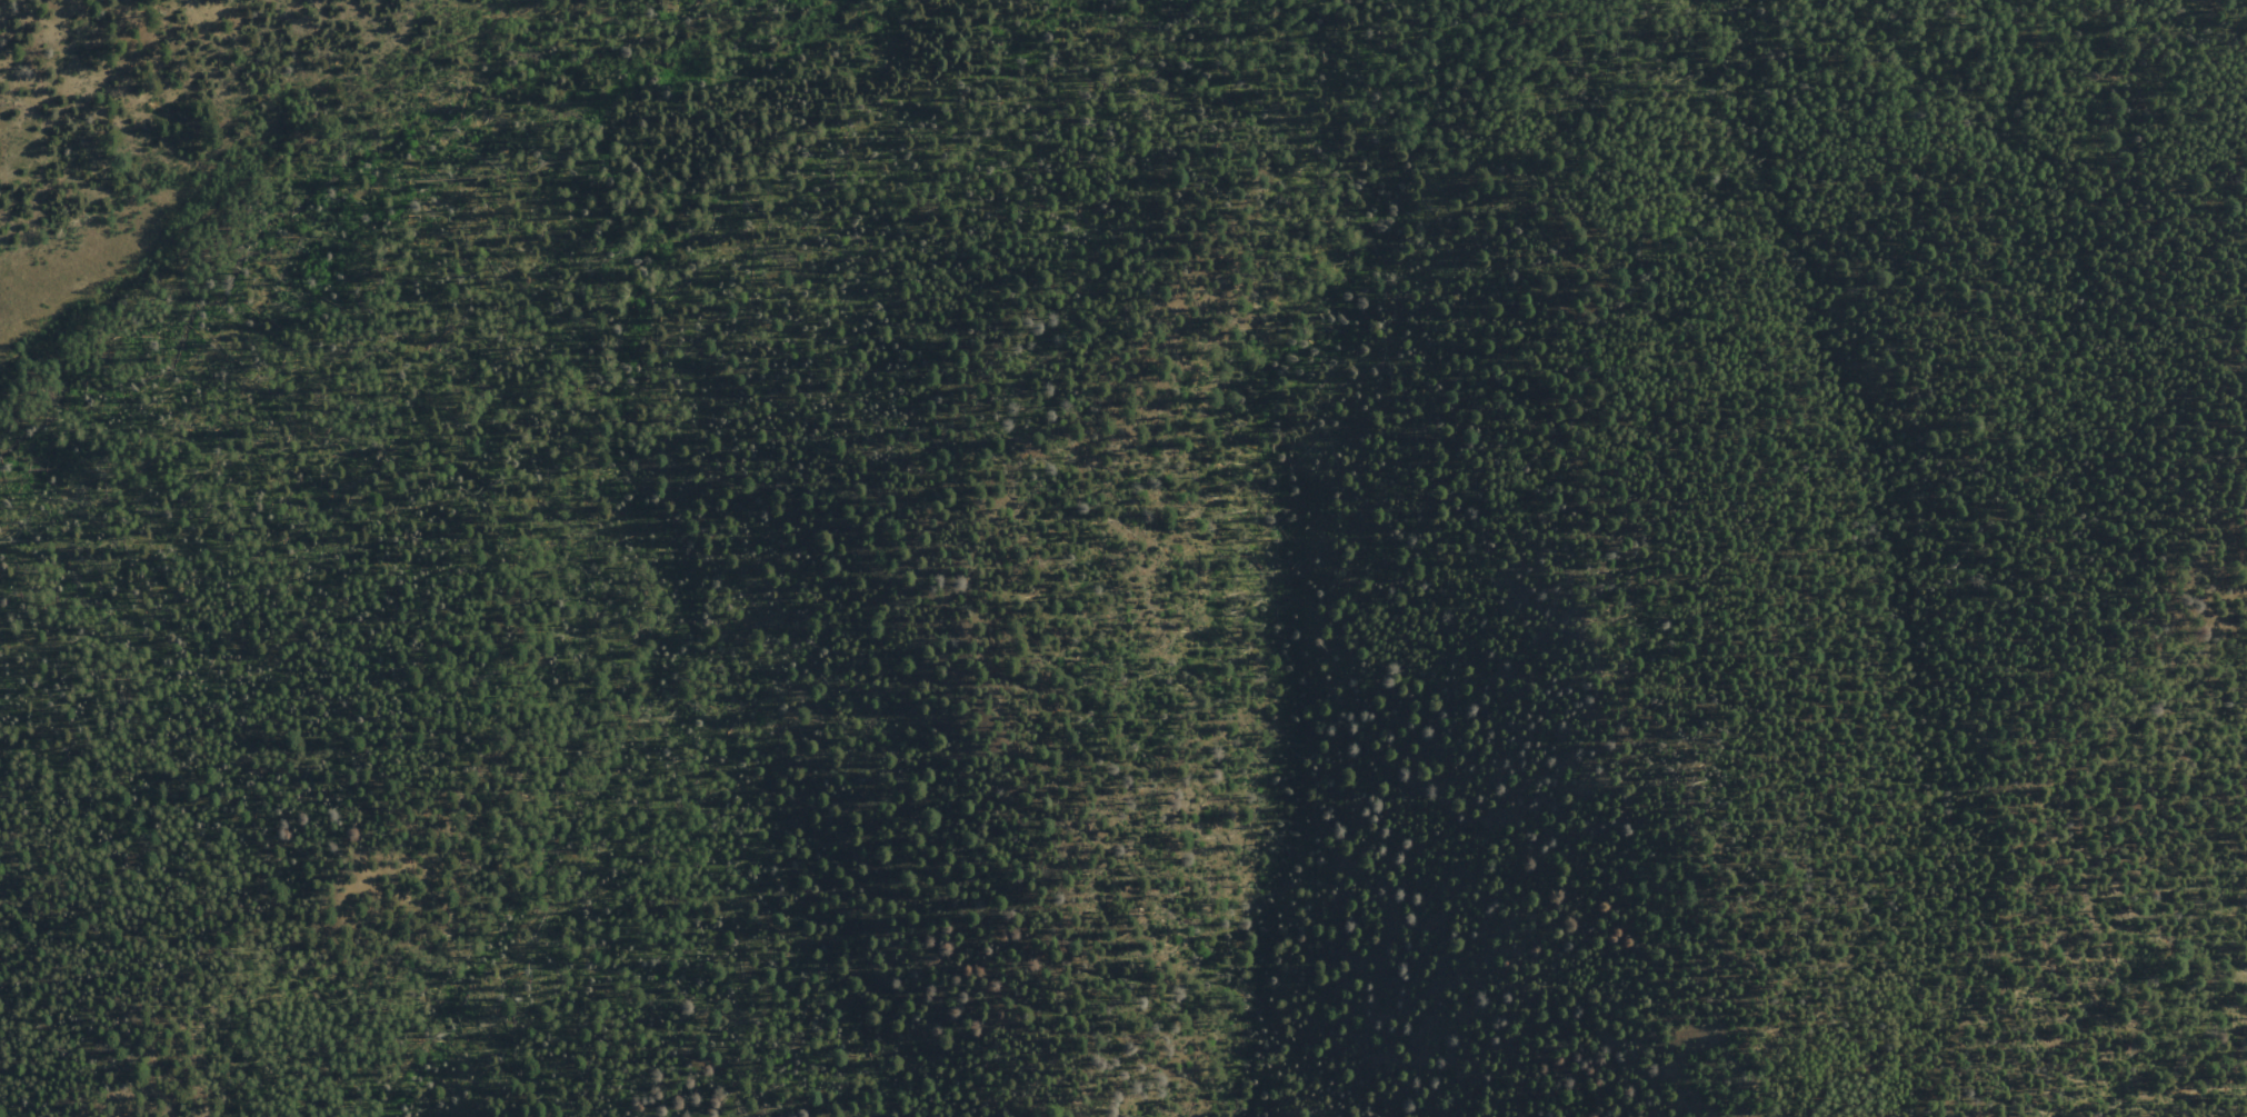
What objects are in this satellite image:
road: (596, 57)

